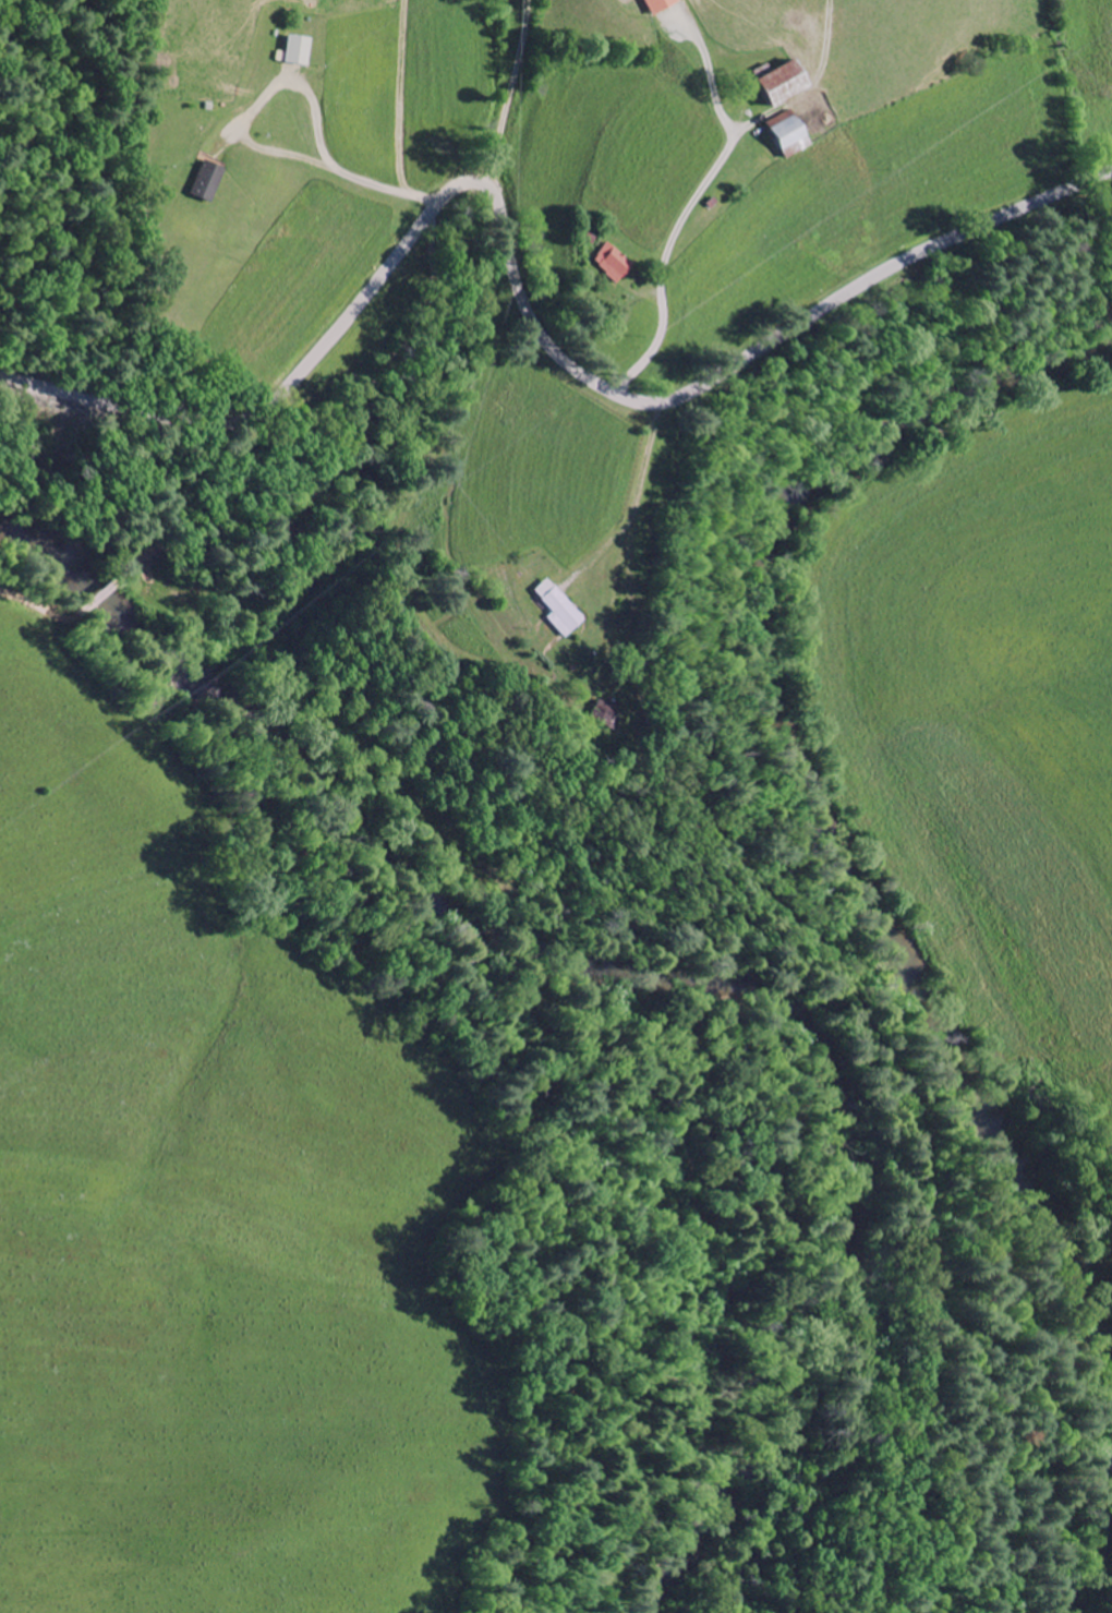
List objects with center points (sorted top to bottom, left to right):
building: (655, 5)
building: (294, 52)
building: (779, 86)
building: (787, 137)
building: (205, 183)
building: (611, 264)
road: (519, 288)
building: (556, 610)
building: (604, 710)
river: (812, 780)
river: (658, 978)
river: (1092, 1562)

